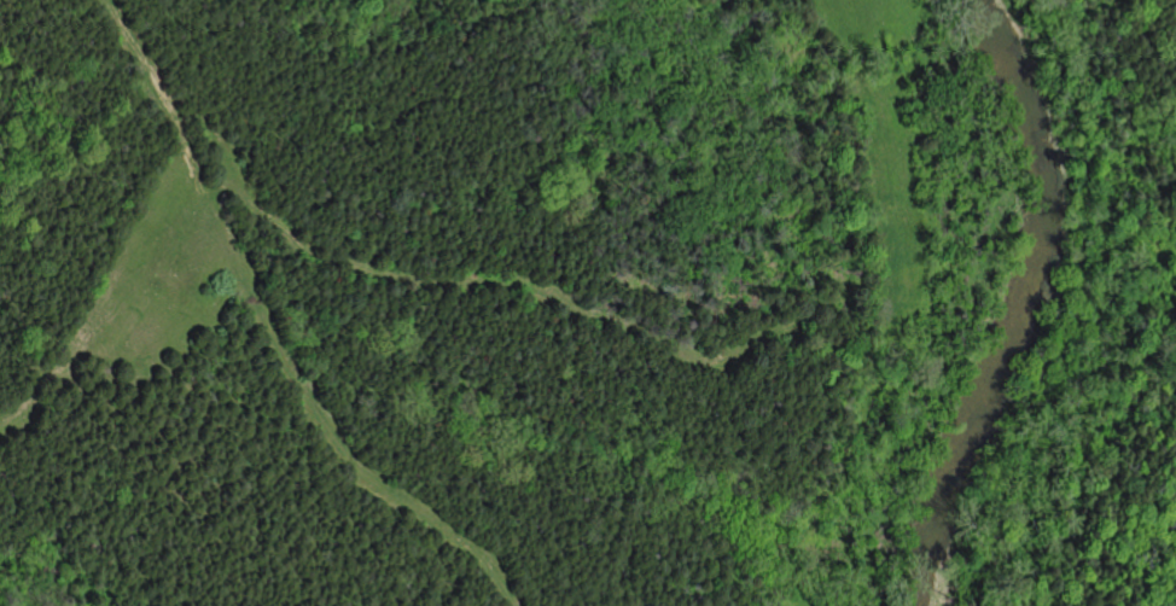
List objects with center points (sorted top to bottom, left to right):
road: (273, 331)

